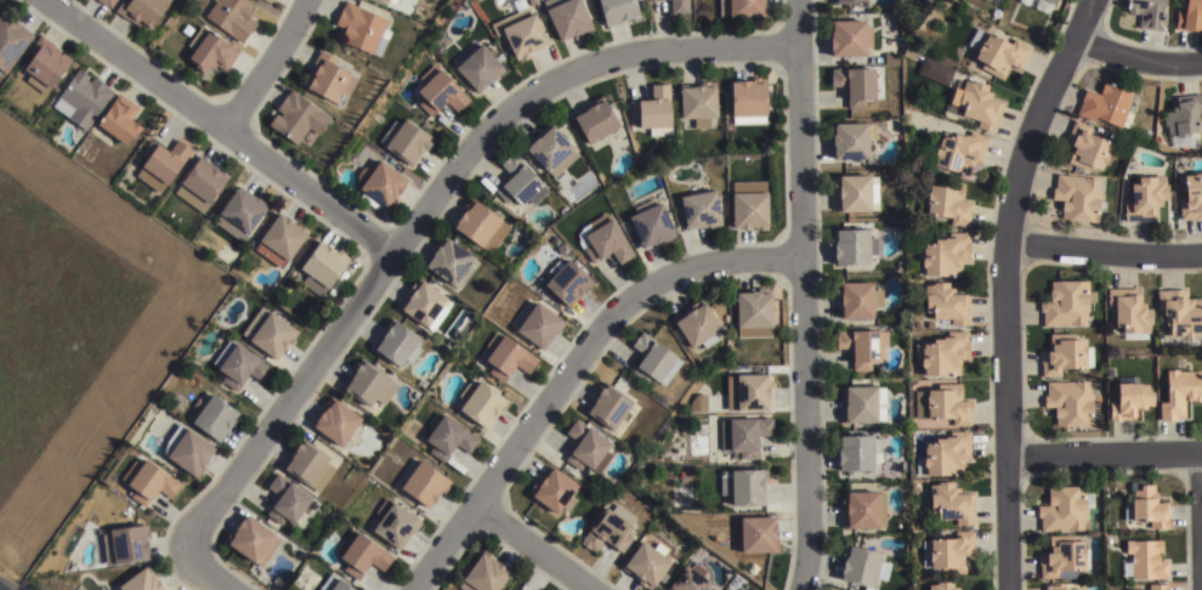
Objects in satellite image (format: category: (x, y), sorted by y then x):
building: (386, 0)
building: (392, 0)
building: (849, 0)
building: (1025, 1)
building: (107, 2)
building: (1044, 5)
building: (679, 6)
building: (743, 7)
building: (141, 11)
building: (619, 11)
building: (1147, 13)
building: (1189, 16)
building: (233, 17)
building: (568, 17)
building: (362, 28)
building: (187, 29)
building: (520, 30)
building: (849, 36)
building: (11, 39)
building: (211, 49)
building: (997, 51)
road: (1138, 56)
building: (891, 57)
building: (44, 63)
road: (267, 66)
building: (480, 68)
building: (328, 78)
building: (855, 84)
building: (438, 91)
building: (81, 98)
building: (749, 101)
building: (699, 103)
building: (976, 103)
building: (1109, 104)
building: (654, 109)
building: (296, 117)
building: (596, 119)
building: (1183, 119)
building: (119, 120)
road: (222, 126)
building: (851, 138)
building: (406, 140)
building: (1087, 147)
building: (551, 149)
building: (959, 149)
building: (161, 163)
building: (897, 176)
building: (380, 182)
building: (520, 182)
building: (200, 185)
building: (856, 192)
building: (1077, 197)
building: (1191, 197)
building: (1144, 198)
building: (945, 202)
road: (427, 208)
building: (702, 209)
building: (750, 210)
building: (240, 214)
building: (481, 225)
building: (652, 225)
building: (282, 239)
building: (606, 239)
building: (852, 245)
road: (1102, 250)
building: (946, 254)
building: (452, 263)
building: (324, 267)
building: (567, 283)
road: (1003, 287)
road: (803, 295)
building: (857, 300)
building: (945, 303)
building: (1066, 303)
building: (425, 305)
building: (1129, 312)
building: (755, 313)
building: (917, 316)
building: (1179, 318)
building: (698, 324)
building: (540, 325)
building: (270, 333)
building: (397, 344)
building: (862, 346)
building: (943, 354)
building: (1064, 354)
building: (506, 357)
building: (653, 361)
building: (1180, 363)
building: (239, 364)
road: (572, 368)
building: (368, 384)
building: (754, 392)
building: (1179, 393)
building: (1128, 401)
building: (1071, 403)
building: (481, 404)
building: (862, 404)
building: (948, 404)
building: (608, 407)
building: (216, 418)
building: (335, 422)
building: (744, 435)
building: (448, 438)
building: (586, 448)
building: (188, 450)
building: (856, 453)
building: (947, 455)
road: (1104, 455)
building: (307, 465)
building: (149, 483)
building: (424, 486)
road: (1201, 487)
building: (747, 488)
building: (555, 492)
building: (285, 500)
building: (949, 504)
building: (1065, 509)
building: (1146, 509)
building: (863, 510)
building: (395, 526)
building: (611, 531)
building: (759, 535)
building: (250, 541)
building: (129, 545)
road: (532, 549)
building: (301, 554)
building: (948, 554)
building: (361, 555)
building: (1062, 558)
building: (1145, 560)
building: (647, 567)
building: (863, 567)
road: (205, 572)
building: (484, 575)
building: (142, 582)
building: (690, 582)
building: (334, 584)
building: (942, 586)
building: (1054, 588)
building: (1157, 588)

